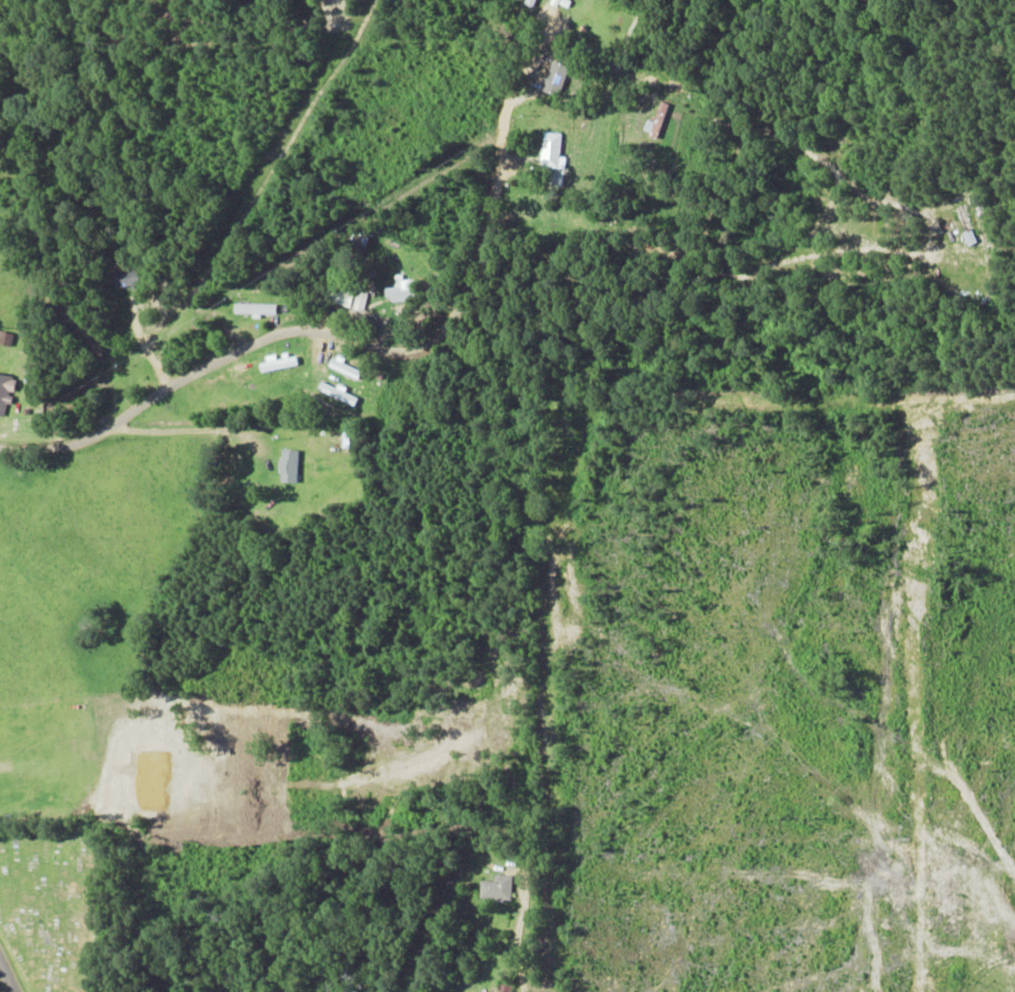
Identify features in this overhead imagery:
building: (555, 78)
building: (655, 120)
building: (550, 149)
building: (965, 224)
building: (125, 278)
building: (398, 289)
building: (338, 295)
building: (360, 300)
building: (254, 309)
building: (277, 362)
building: (341, 367)
building: (6, 391)
building: (335, 392)
building: (287, 466)
building: (495, 888)
road: (87, 889)

